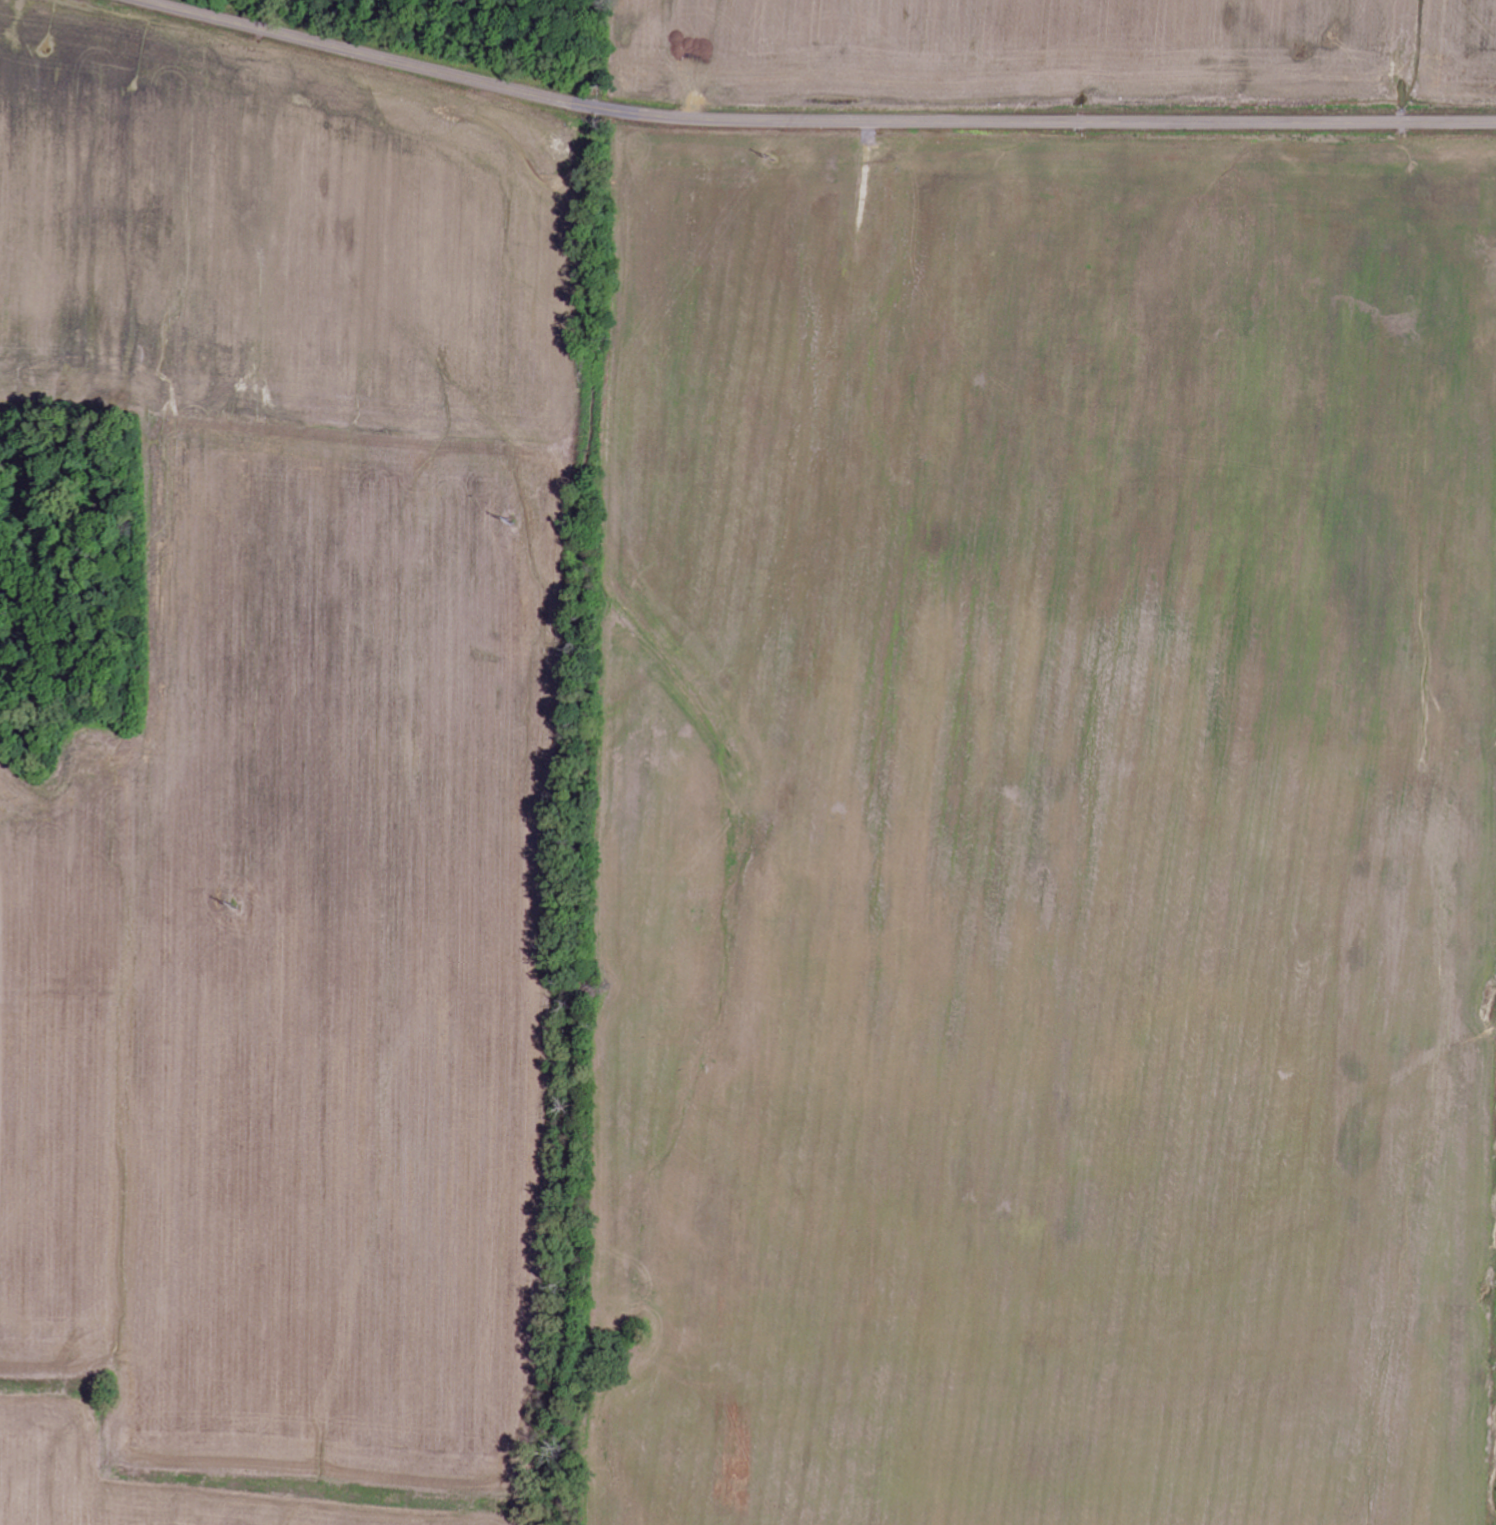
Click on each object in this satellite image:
road: (809, 122)
power tower: (778, 156)
power tower: (519, 526)
power tower: (243, 906)

